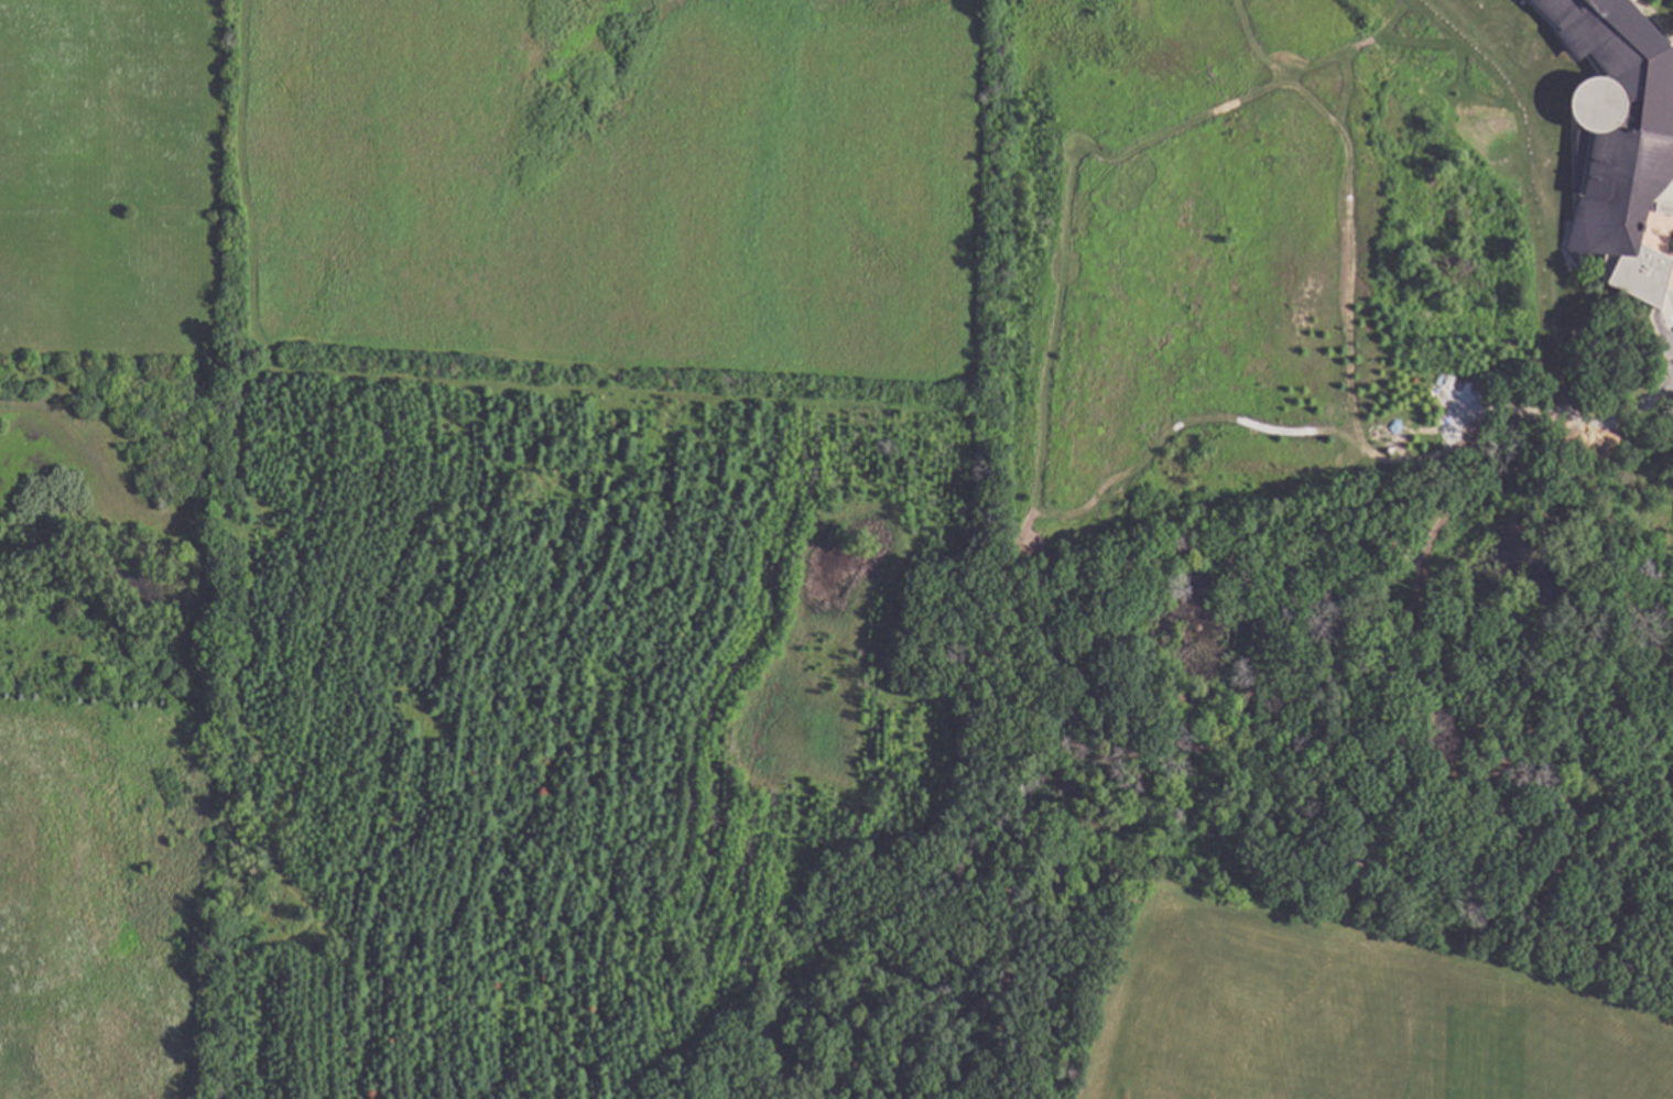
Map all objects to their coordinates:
building: (1620, 139)
crop: (496, 179)
road: (1669, 337)
crop: (98, 894)
park: (1486, 1053)
park: (1189, 1057)

